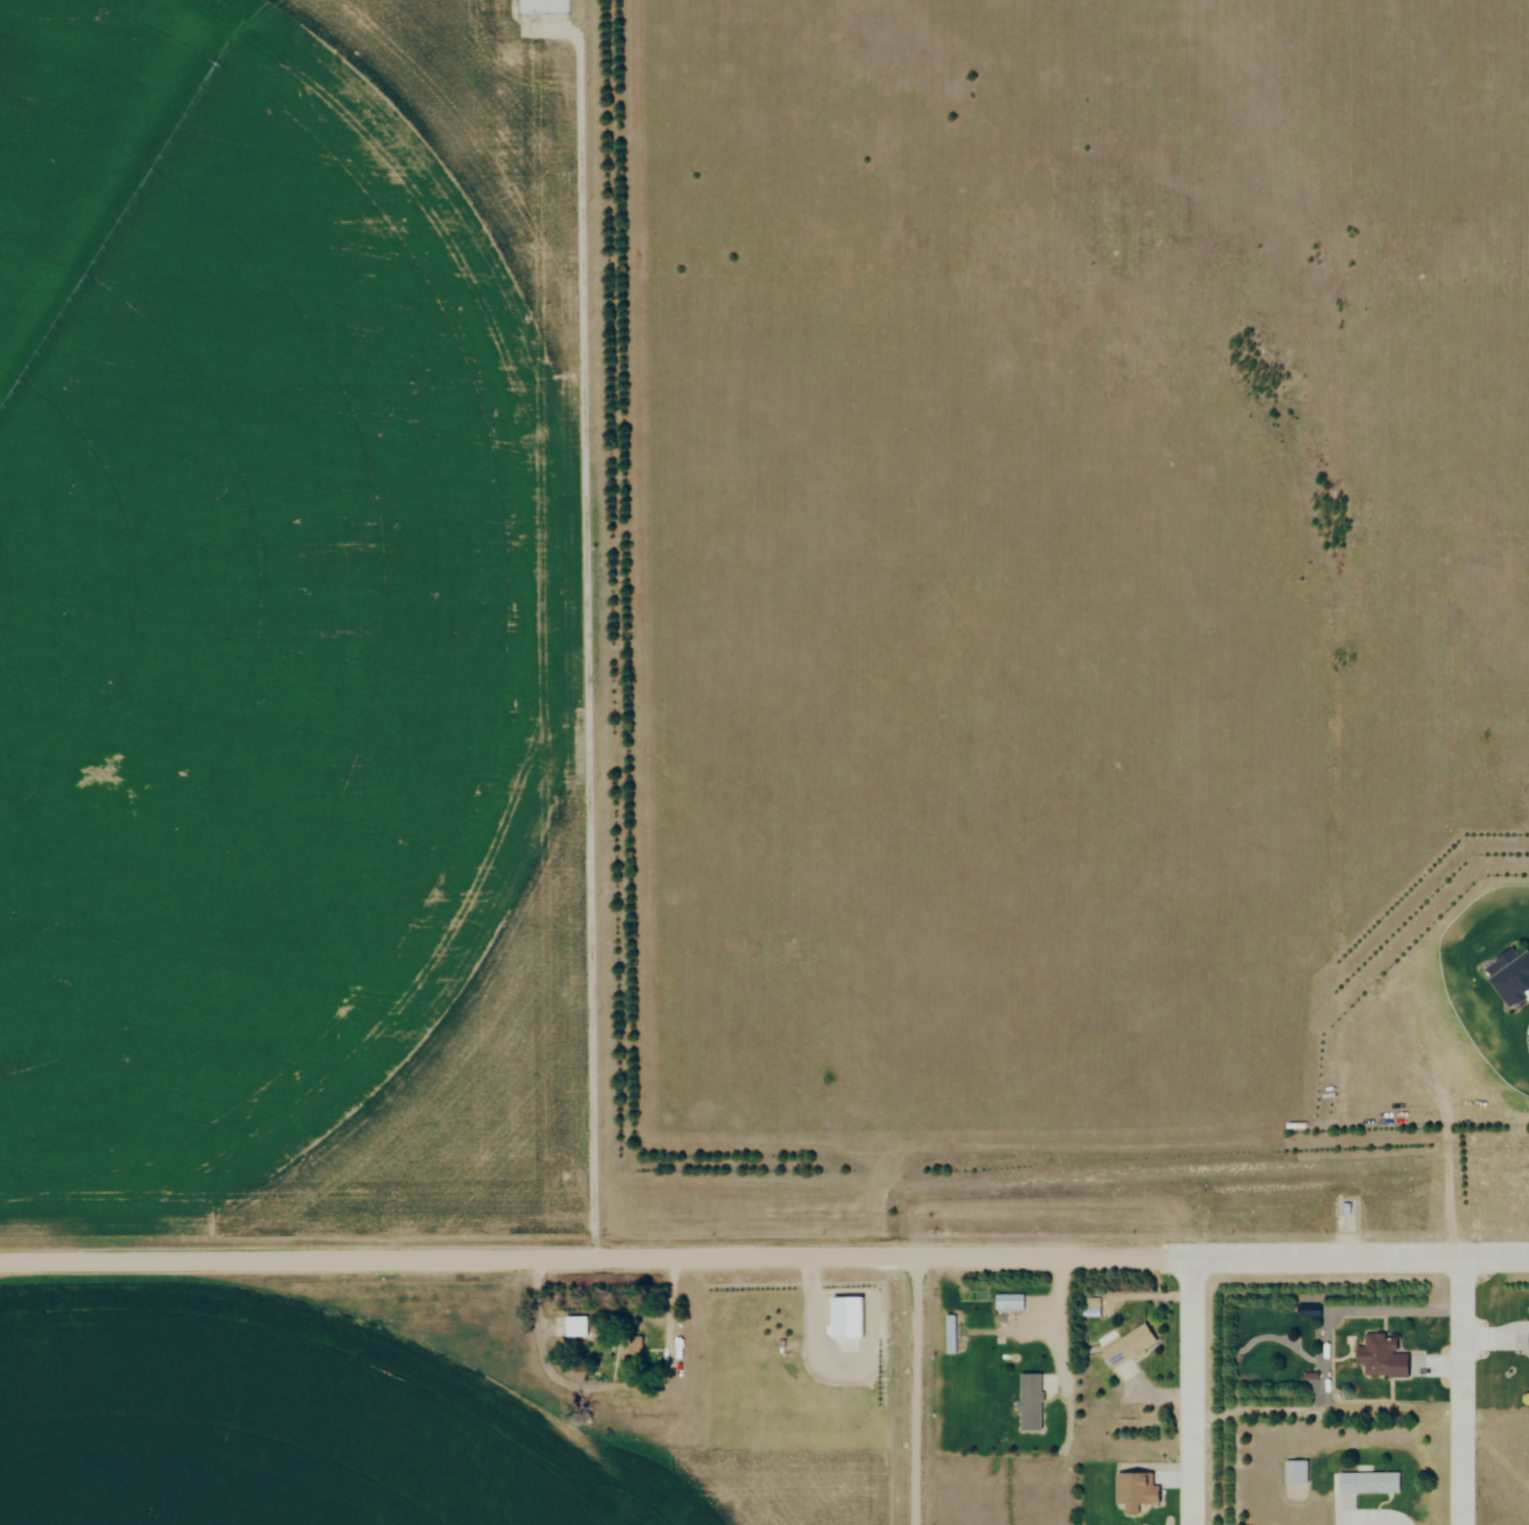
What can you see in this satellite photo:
road: (584, 629)
building: (1344, 1210)
road: (764, 1256)
building: (1008, 1302)
building: (574, 1326)
building: (951, 1334)
building: (1526, 1341)
building: (1127, 1347)
building: (631, 1348)
building: (1379, 1357)
road: (677, 1362)
road: (1464, 1389)
road: (918, 1390)
road: (1196, 1390)
building: (1028, 1402)
building: (1294, 1472)
building: (1367, 1482)

